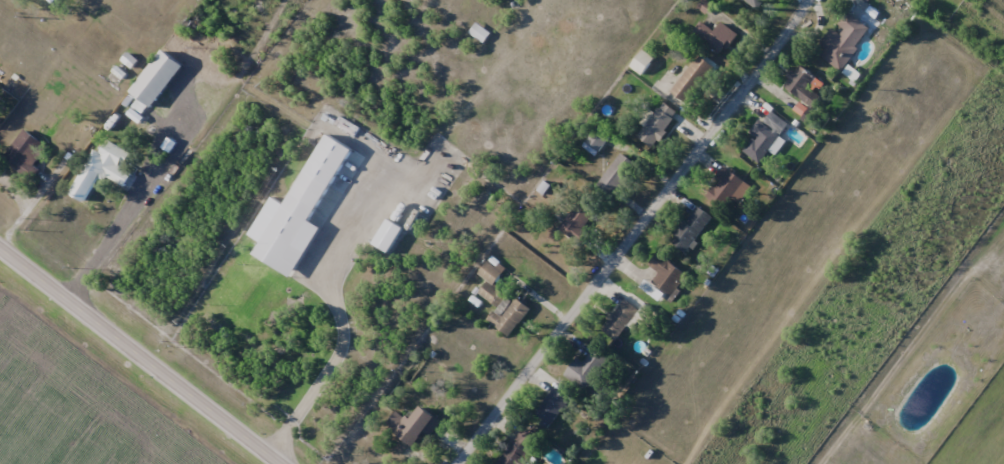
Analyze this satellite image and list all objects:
building: (53, 2)
building: (755, 3)
building: (479, 32)
building: (716, 36)
building: (842, 40)
building: (692, 79)
building: (159, 80)
building: (802, 85)
building: (657, 125)
building: (766, 138)
building: (595, 141)
building: (30, 150)
building: (100, 171)
building: (617, 174)
building: (724, 187)
road: (29, 202)
building: (301, 213)
building: (575, 221)
building: (691, 228)
road: (111, 232)
road: (631, 234)
building: (392, 239)
building: (495, 274)
building: (664, 277)
building: (492, 295)
building: (514, 317)
building: (620, 319)
road: (336, 343)
road: (141, 354)
building: (586, 369)
crop: (75, 405)
building: (551, 406)
building: (421, 428)
crop: (981, 434)
building: (519, 448)

